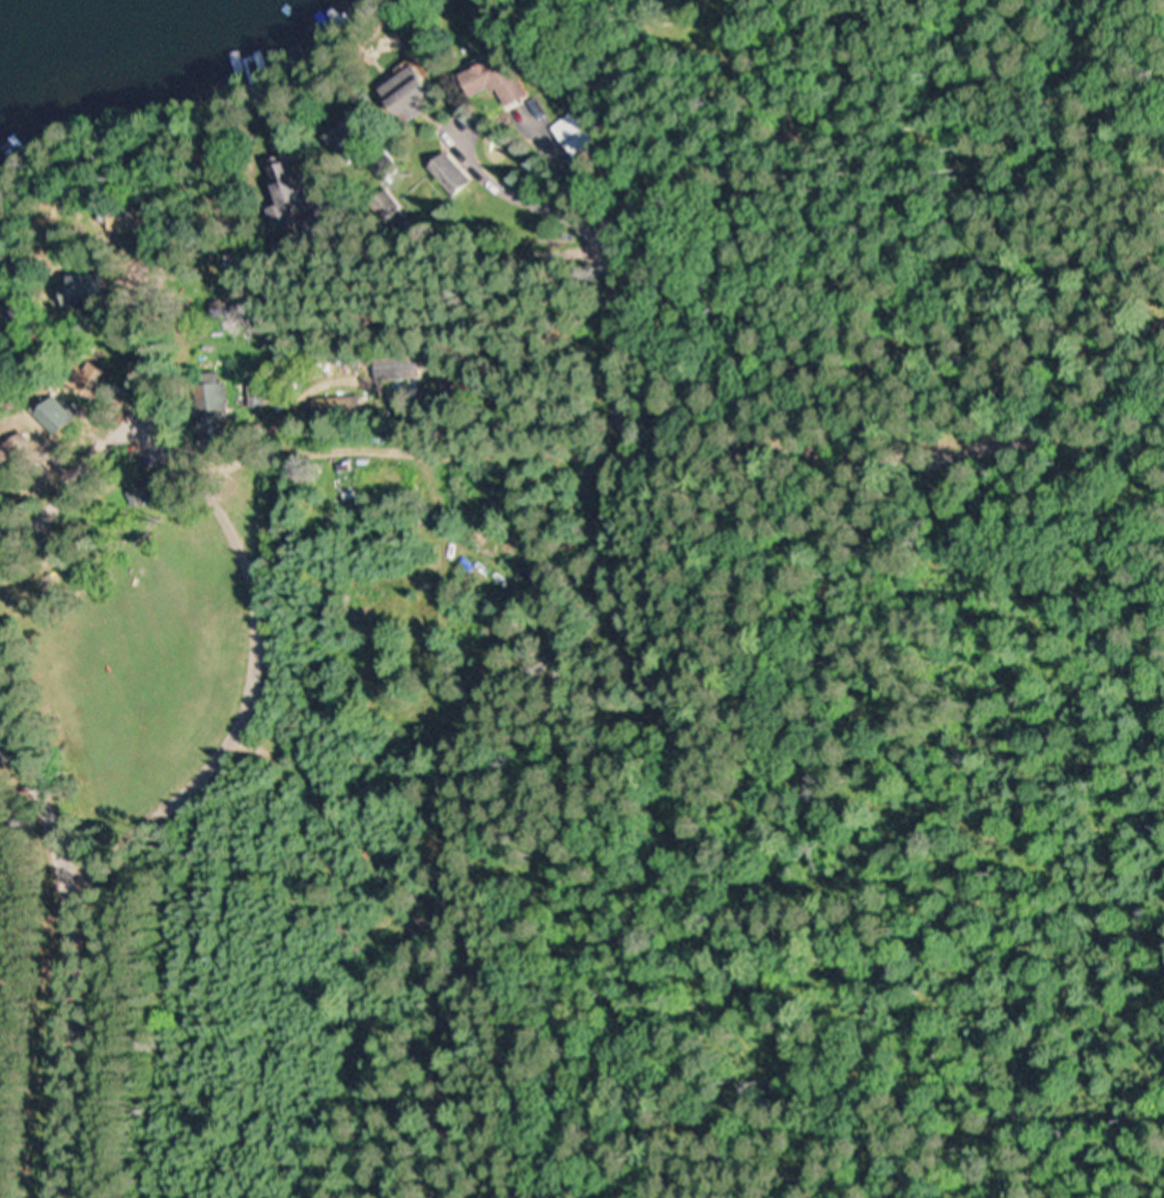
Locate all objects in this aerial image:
building: (500, 82)
building: (415, 95)
building: (578, 132)
building: (354, 135)
building: (293, 197)
building: (130, 218)
road: (922, 219)
building: (91, 290)
building: (400, 367)
building: (99, 383)
road: (160, 385)
building: (259, 396)
building: (341, 406)
building: (61, 420)
road: (1042, 433)
road: (689, 442)
road: (390, 443)
building: (2, 479)
building: (158, 488)
road: (2, 709)
road: (45, 815)
road: (133, 826)

